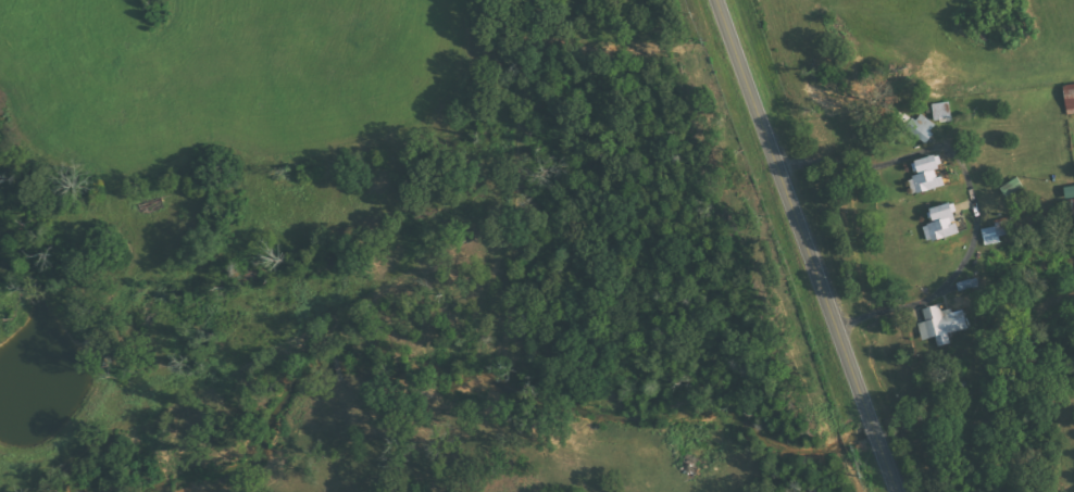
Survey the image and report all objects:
building: (1071, 97)
building: (928, 176)
building: (945, 224)
building: (997, 231)
road: (804, 245)
building: (944, 324)

